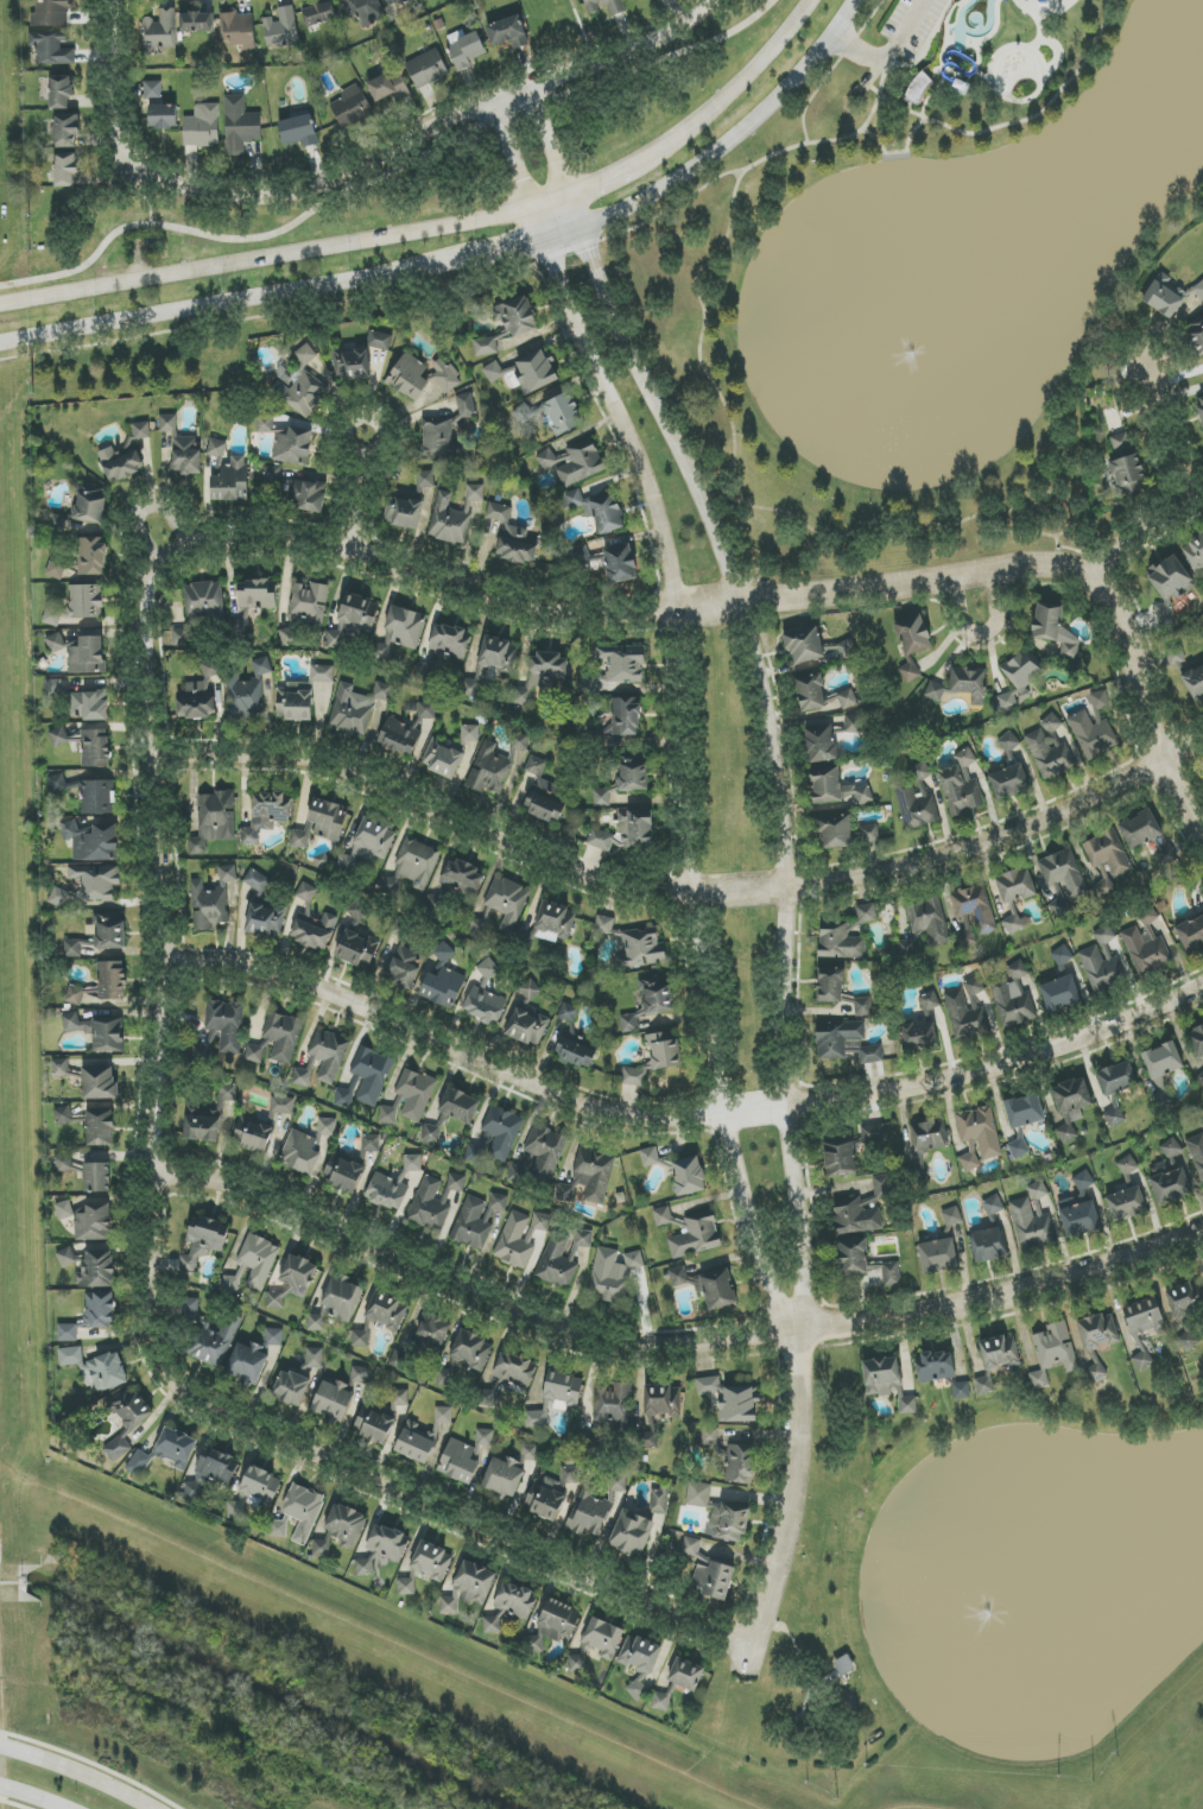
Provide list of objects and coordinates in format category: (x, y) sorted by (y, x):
building: (635, 0)
building: (394, 2)
building: (606, 7)
building: (365, 11)
building: (51, 13)
building: (319, 13)
building: (196, 23)
building: (281, 29)
building: (238, 30)
building: (160, 32)
building: (507, 32)
building: (51, 49)
building: (466, 49)
road: (889, 53)
road: (832, 68)
building: (426, 69)
road: (742, 80)
road: (114, 84)
building: (388, 87)
building: (152, 89)
building: (918, 89)
building: (61, 91)
building: (352, 107)
building: (163, 116)
road: (1002, 125)
building: (202, 126)
building: (240, 126)
road: (428, 128)
building: (67, 131)
building: (298, 131)
road: (735, 135)
road: (780, 151)
building: (65, 169)
road: (596, 178)
road: (521, 245)
road: (265, 257)
building: (1199, 290)
building: (1165, 296)
road: (232, 303)
building: (508, 324)
building: (1196, 334)
building: (379, 341)
fountain: (910, 352)
building: (304, 356)
building: (350, 363)
building: (527, 372)
building: (444, 374)
building: (409, 377)
building: (303, 393)
building: (1199, 407)
building: (553, 413)
building: (167, 423)
building: (265, 424)
building: (445, 430)
road: (1172, 436)
building: (1120, 443)
building: (293, 447)
building: (217, 451)
road: (374, 454)
building: (185, 455)
building: (551, 460)
building: (581, 463)
building: (1127, 475)
road: (734, 477)
building: (425, 480)
building: (232, 481)
building: (295, 491)
road: (1056, 493)
road: (354, 501)
building: (89, 504)
road: (139, 507)
building: (597, 510)
building: (404, 512)
building: (499, 512)
building: (452, 515)
building: (58, 523)
building: (517, 545)
road: (1057, 549)
building: (1196, 554)
building: (91, 556)
building: (620, 563)
building: (56, 570)
building: (1170, 578)
building: (254, 601)
building: (308, 602)
building: (77, 605)
road: (707, 606)
building: (198, 609)
building: (1165, 614)
building: (352, 620)
building: (1047, 621)
building: (400, 631)
road: (982, 632)
building: (286, 635)
building: (449, 641)
building: (912, 644)
building: (804, 645)
building: (842, 650)
building: (1069, 651)
building: (80, 652)
building: (492, 662)
building: (621, 663)
building: (322, 673)
building: (1188, 673)
building: (542, 675)
building: (1019, 679)
building: (969, 684)
road: (766, 685)
building: (53, 688)
building: (247, 691)
building: (935, 691)
building: (198, 694)
building: (821, 695)
building: (295, 702)
road: (682, 703)
road: (1146, 704)
building: (88, 706)
building: (355, 708)
building: (426, 710)
building: (626, 716)
building: (853, 723)
building: (1094, 727)
building: (469, 734)
building: (58, 736)
building: (400, 738)
building: (519, 742)
building: (1008, 742)
building: (821, 744)
building: (95, 748)
building: (1049, 749)
building: (443, 758)
building: (490, 766)
building: (625, 780)
building: (1009, 782)
building: (960, 784)
building: (836, 788)
building: (87, 793)
building: (543, 793)
building: (917, 801)
building: (265, 815)
building: (214, 821)
building: (322, 823)
building: (633, 829)
building: (1140, 829)
building: (836, 831)
building: (600, 839)
building: (93, 841)
building: (369, 843)
building: (1166, 855)
building: (1107, 861)
building: (414, 866)
building: (1064, 873)
building: (462, 875)
building: (257, 881)
building: (96, 883)
building: (1015, 886)
road: (678, 890)
building: (58, 897)
building: (211, 902)
building: (501, 906)
building: (1060, 907)
building: (867, 913)
building: (974, 913)
building: (265, 921)
building: (311, 921)
building: (555, 922)
building: (603, 925)
building: (109, 930)
building: (1191, 934)
building: (1104, 935)
building: (840, 942)
building: (1147, 945)
building: (76, 948)
building: (641, 949)
building: (357, 950)
building: (443, 953)
road: (165, 954)
building: (1062, 955)
building: (404, 968)
building: (1101, 969)
building: (102, 983)
building: (830, 985)
building: (443, 987)
building: (530, 989)
building: (1064, 992)
building: (1013, 997)
building: (486, 998)
building: (651, 1001)
building: (862, 1006)
building: (965, 1010)
building: (568, 1012)
building: (226, 1024)
building: (527, 1026)
building: (97, 1031)
building: (283, 1036)
building: (918, 1036)
building: (1197, 1042)
building: (846, 1043)
building: (576, 1049)
building: (202, 1050)
building: (664, 1050)
building: (254, 1054)
building: (329, 1054)
building: (1164, 1060)
building: (59, 1068)
building: (371, 1074)
building: (634, 1075)
building: (1201, 1076)
building: (1117, 1077)
building: (99, 1083)
building: (414, 1093)
building: (346, 1096)
building: (1071, 1103)
building: (283, 1105)
building: (458, 1106)
building: (1025, 1111)
building: (390, 1113)
road: (679, 1114)
building: (63, 1115)
building: (208, 1118)
building: (1114, 1118)
building: (1202, 1120)
building: (100, 1127)
building: (980, 1130)
building: (254, 1132)
building: (431, 1134)
building: (498, 1134)
building: (879, 1134)
building: (929, 1136)
building: (371, 1143)
building: (306, 1147)
building: (1018, 1149)
building: (1172, 1152)
building: (1197, 1152)
building: (539, 1155)
building: (648, 1156)
building: (841, 1159)
building: (63, 1162)
building: (969, 1162)
building: (412, 1163)
building: (1127, 1165)
building: (343, 1172)
building: (688, 1176)
building: (96, 1177)
building: (589, 1177)
building: (456, 1182)
building: (1169, 1183)
building: (387, 1191)
building: (431, 1203)
building: (1126, 1203)
building: (993, 1204)
building: (863, 1209)
building: (1079, 1209)
building: (64, 1210)
building: (663, 1216)
building: (951, 1217)
building: (477, 1220)
building: (1033, 1220)
building: (94, 1223)
building: (520, 1238)
building: (696, 1238)
building: (583, 1239)
building: (203, 1242)
building: (989, 1245)
building: (938, 1255)
building: (67, 1257)
building: (853, 1257)
building: (558, 1261)
building: (253, 1265)
building: (97, 1270)
building: (888, 1272)
building: (613, 1274)
building: (293, 1282)
building: (708, 1286)
building: (336, 1304)
building: (1186, 1309)
building: (190, 1310)
building: (90, 1316)
building: (380, 1317)
building: (1144, 1327)
building: (432, 1332)
building: (274, 1337)
building: (1097, 1340)
building: (214, 1342)
road: (671, 1345)
building: (1053, 1352)
building: (466, 1356)
building: (314, 1358)
building: (399, 1360)
building: (995, 1360)
building: (247, 1362)
building: (96, 1367)
building: (935, 1367)
building: (359, 1374)
building: (508, 1377)
building: (887, 1383)
building: (291, 1387)
building: (561, 1389)
building: (961, 1390)
building: (399, 1398)
building: (333, 1400)
building: (732, 1400)
building: (613, 1404)
building: (658, 1409)
building: (132, 1410)
building: (538, 1417)
building: (374, 1424)
building: (423, 1437)
building: (710, 1440)
building: (118, 1449)
building: (528, 1453)
building: (464, 1456)
building: (741, 1463)
building: (209, 1475)
building: (570, 1475)
building: (504, 1479)
building: (618, 1482)
building: (254, 1492)
building: (698, 1494)
building: (545, 1498)
building: (659, 1500)
road: (790, 1505)
building: (588, 1512)
road: (460, 1513)
building: (298, 1514)
building: (727, 1522)
building: (341, 1530)
building: (631, 1533)
building: (382, 1548)
building: (426, 1566)
building: (709, 1573)
building: (469, 1588)
fountain: (1007, 1595)
building: (509, 1606)
building: (556, 1623)
building: (602, 1638)
building: (639, 1662)
building: (577, 1663)
building: (844, 1665)
building: (679, 1682)
road: (1, 1704)
road: (74, 1775)
road: (26, 1797)

